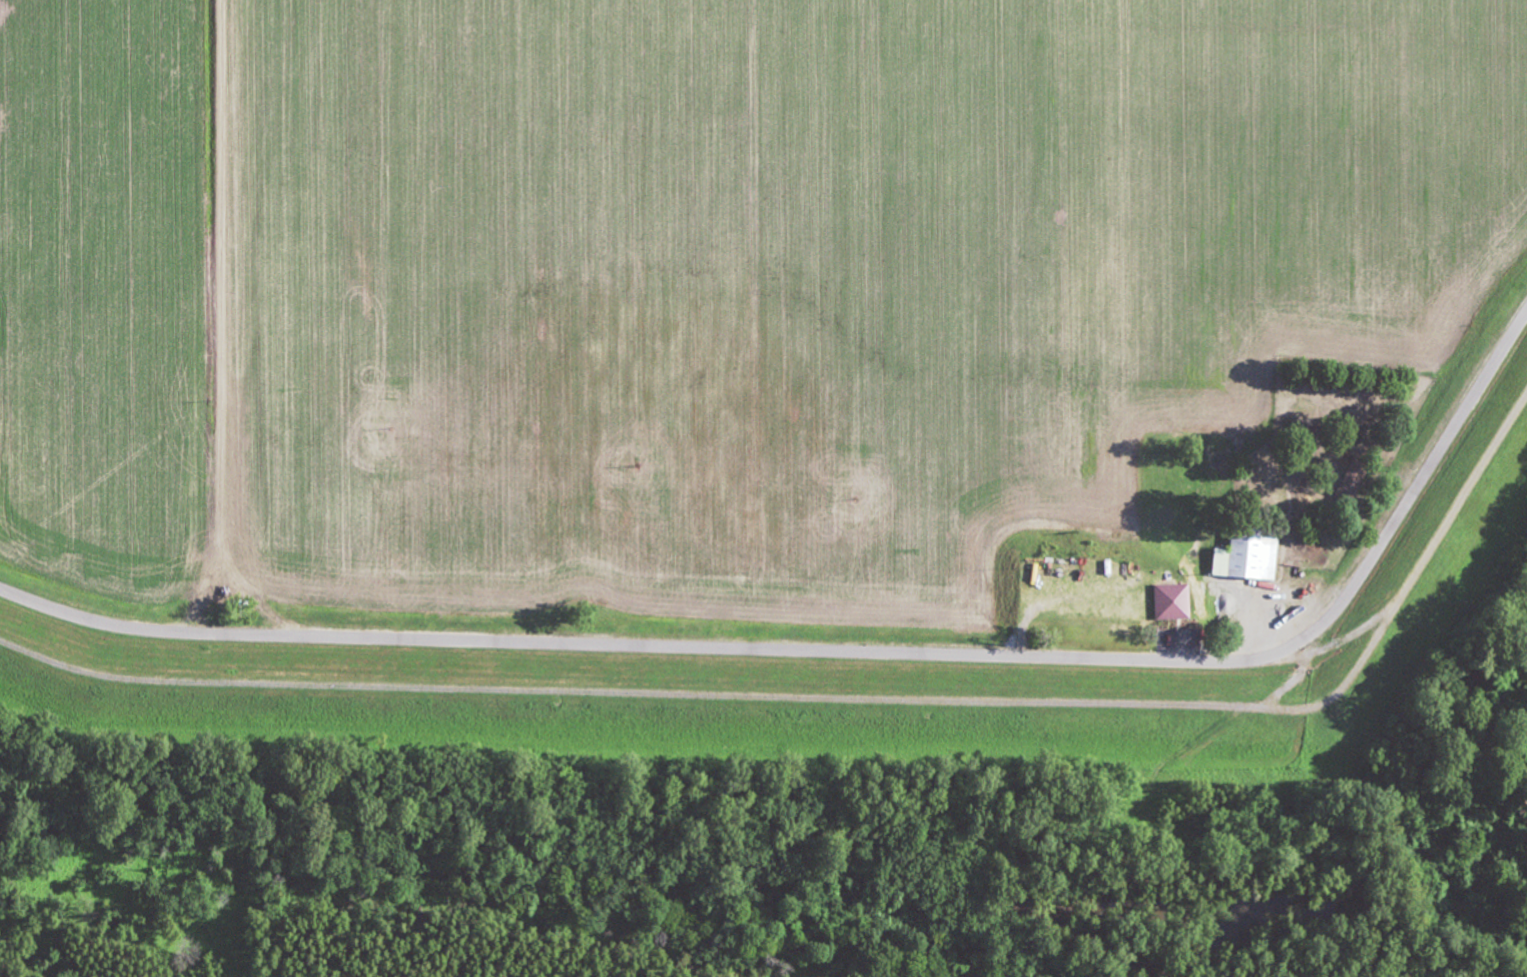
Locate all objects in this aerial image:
road: (222, 317)
building: (1245, 552)
building: (1179, 600)
road: (849, 650)
road: (1298, 681)
road: (845, 696)
road: (1200, 739)

